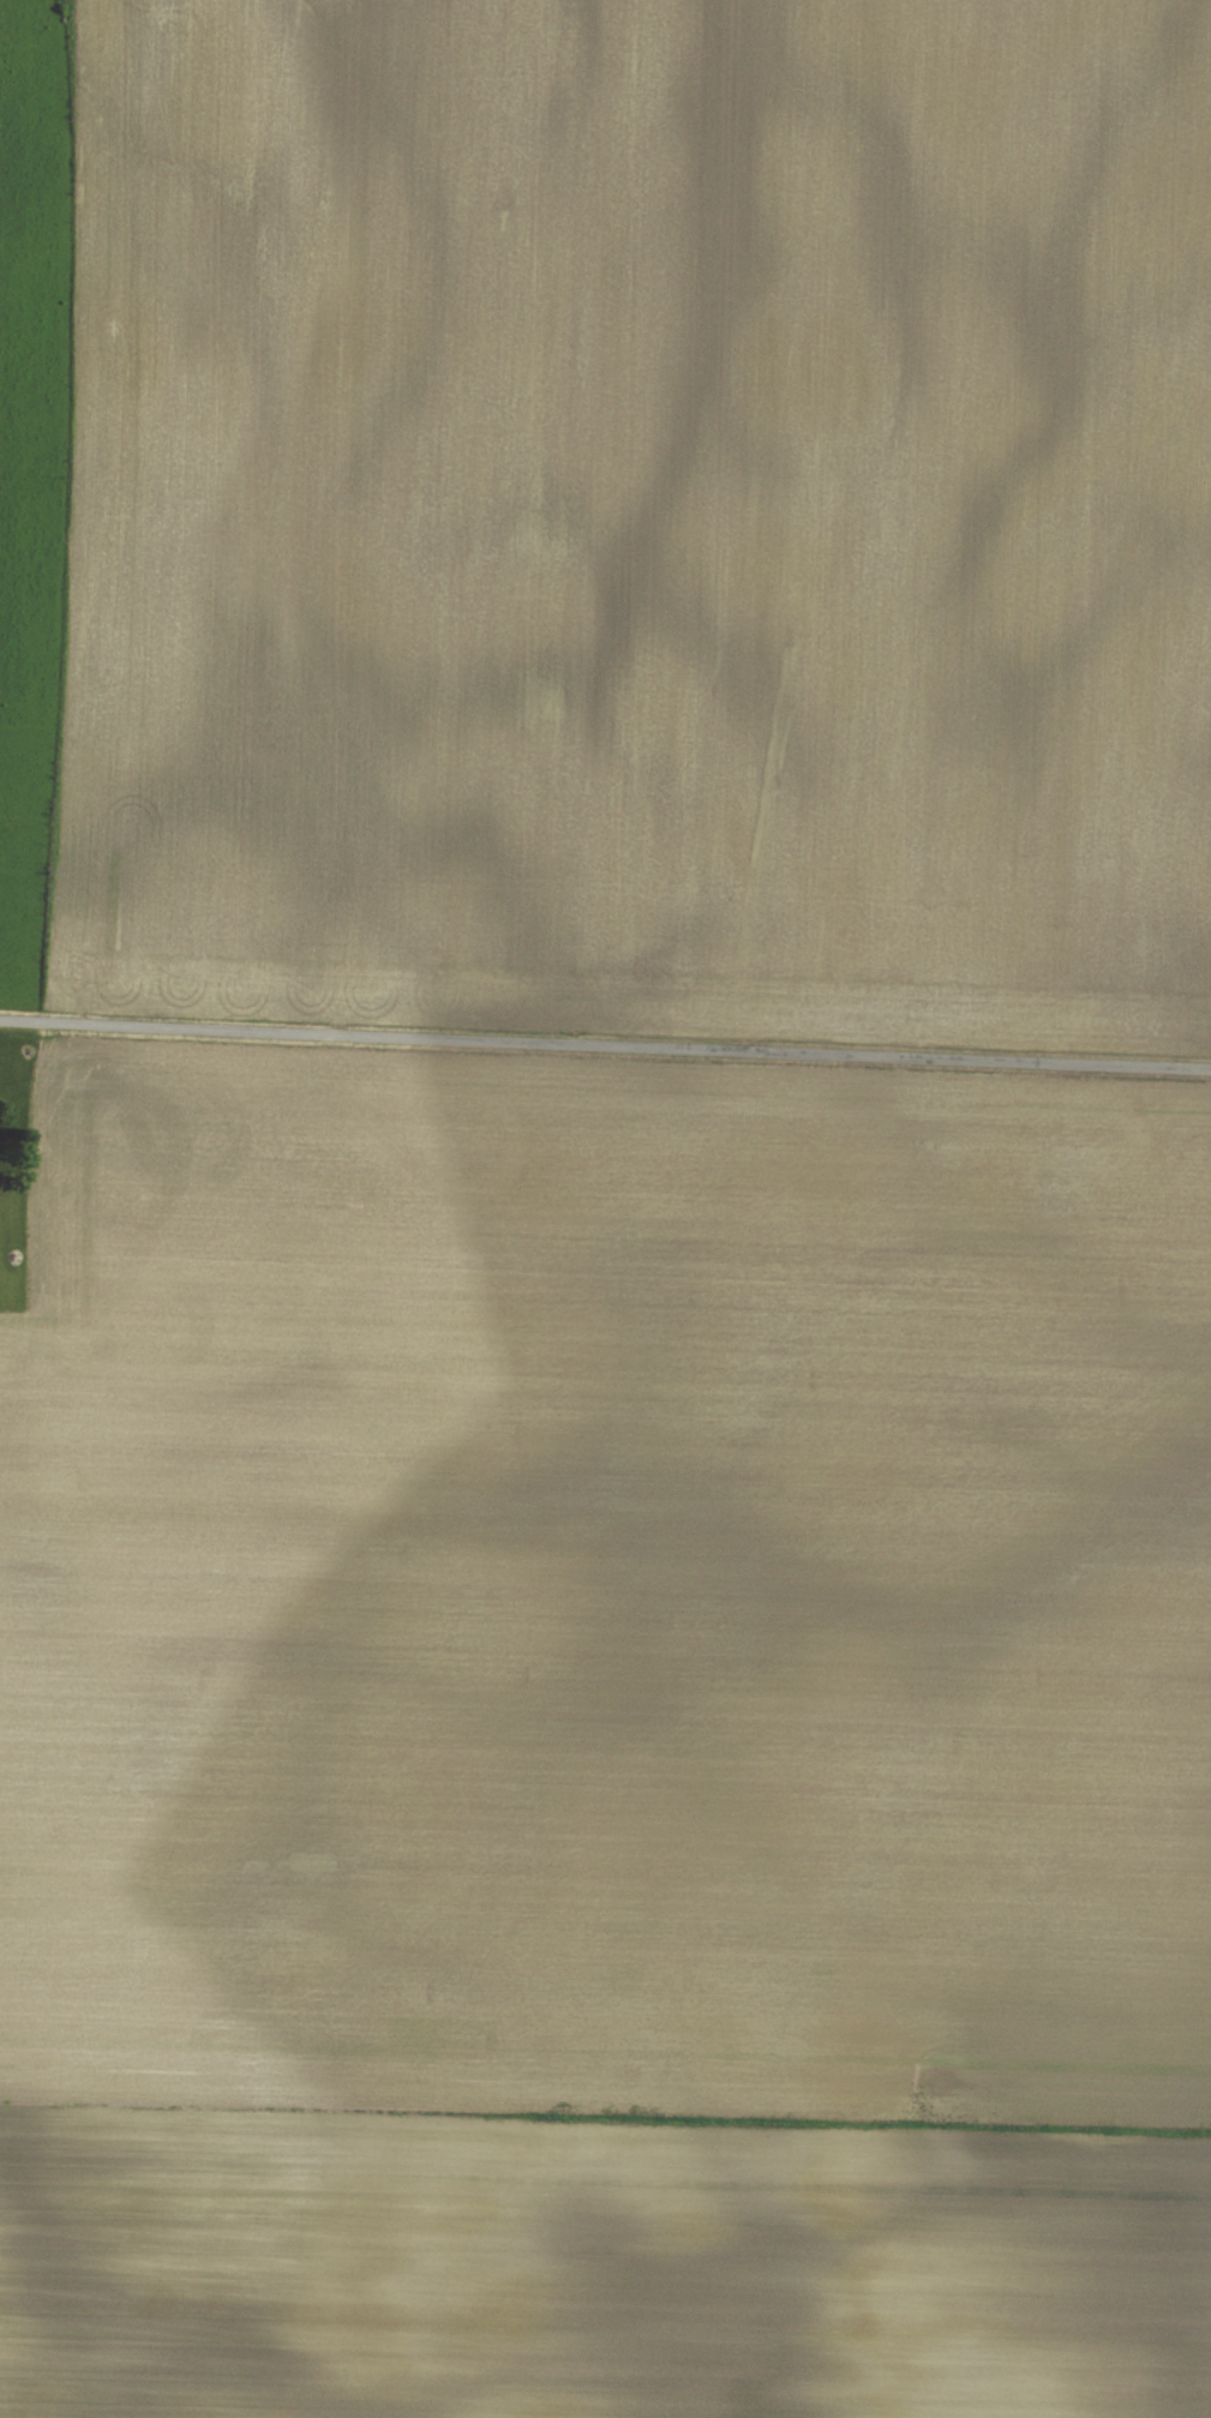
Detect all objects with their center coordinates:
road: (605, 1042)

